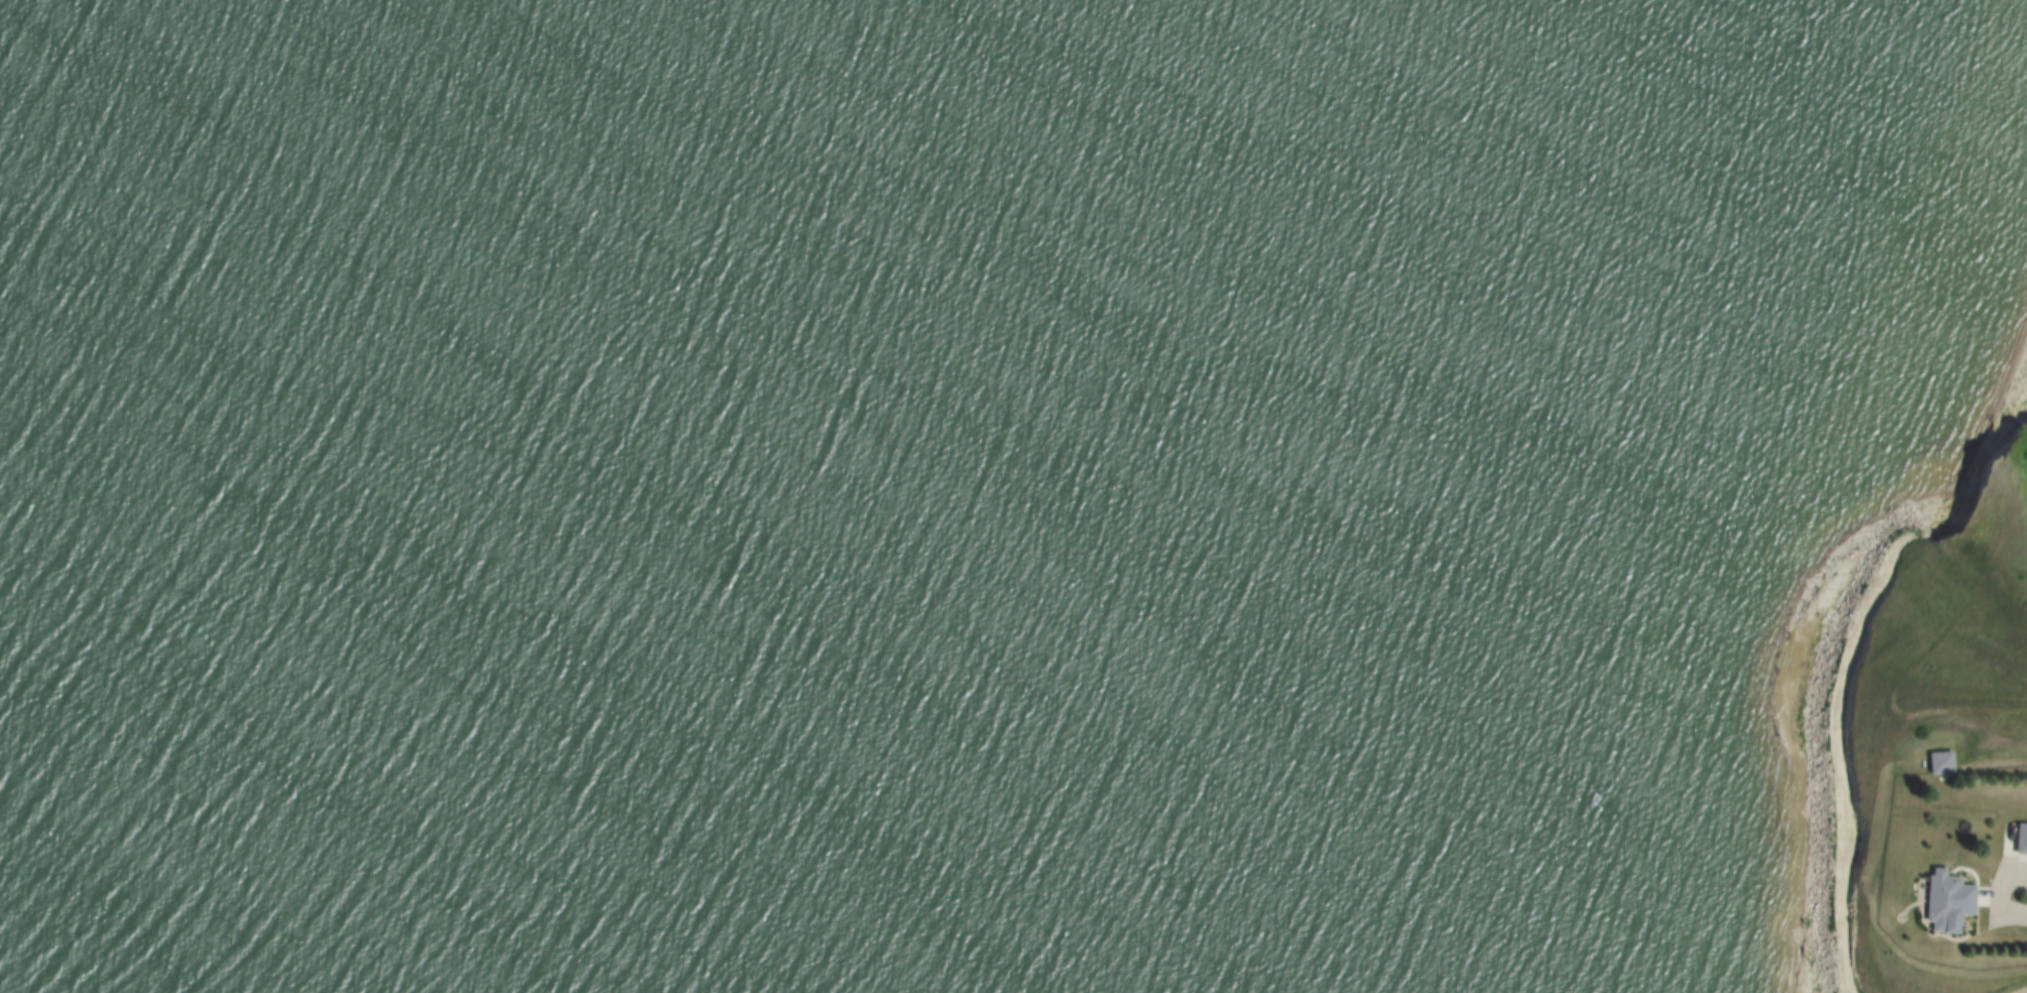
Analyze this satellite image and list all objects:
building: (1940, 760)
building: (2022, 839)
road: (1997, 900)
building: (1951, 902)

